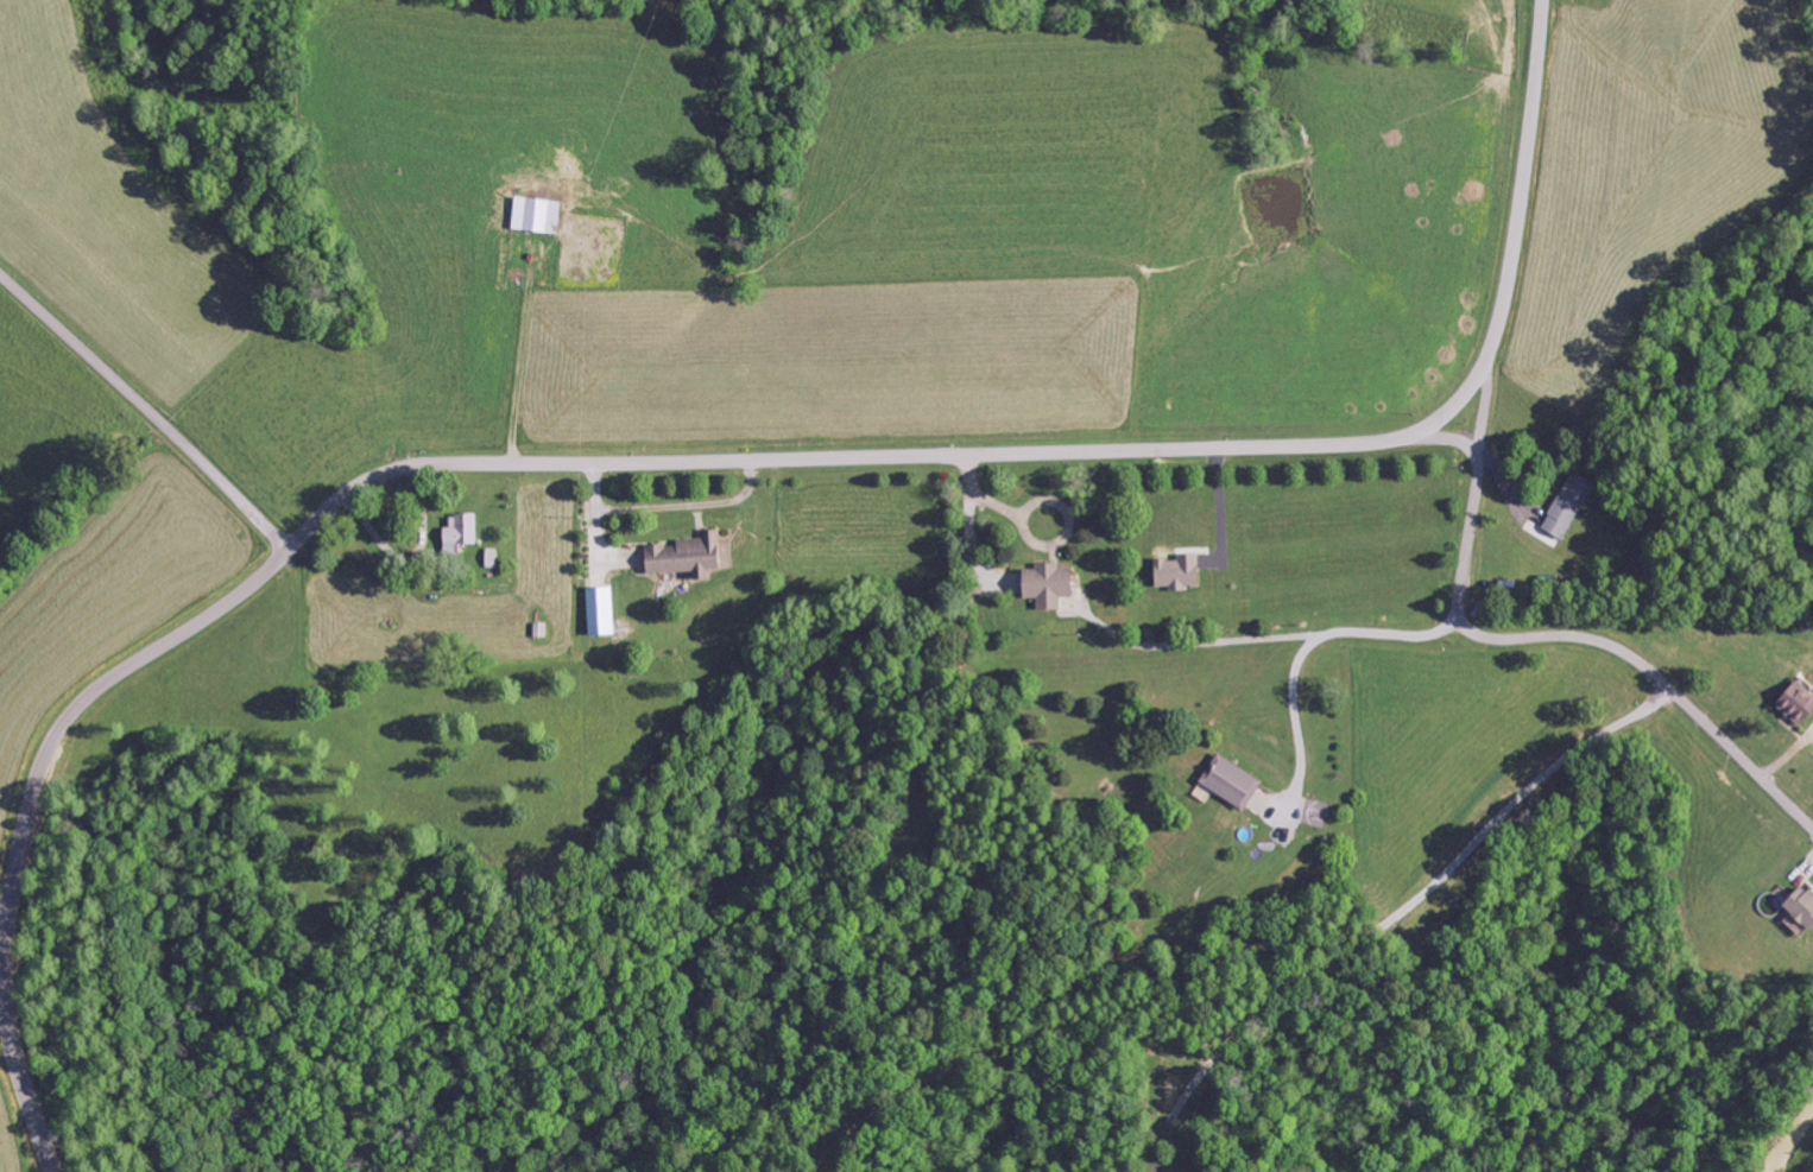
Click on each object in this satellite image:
building: (541, 215)
road: (144, 412)
road: (697, 462)
road: (1421, 488)
building: (1572, 506)
building: (463, 533)
building: (693, 557)
building: (493, 559)
building: (1181, 572)
building: (1051, 585)
road: (1571, 698)
building: (1793, 702)
building: (1234, 783)
building: (1796, 907)

